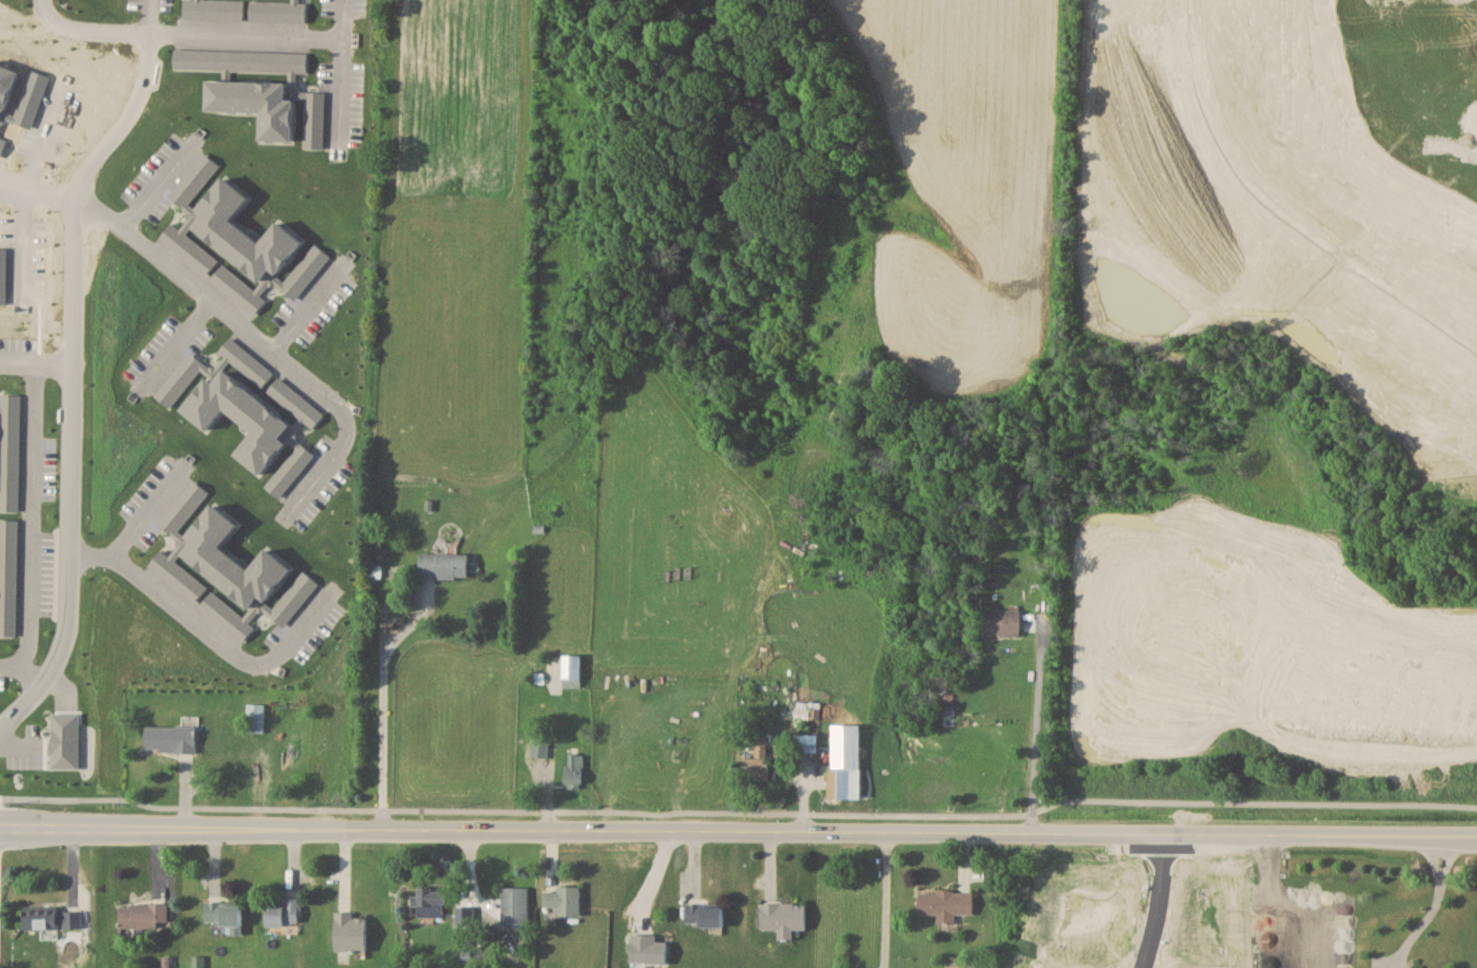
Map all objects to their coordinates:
road: (87, 32)
road: (245, 35)
road: (341, 72)
road: (132, 110)
building: (1160, 167)
road: (14, 182)
building: (1359, 185)
road: (38, 195)
road: (1283, 209)
building: (1409, 213)
building: (1201, 220)
road: (75, 242)
road: (26, 246)
building: (1448, 252)
building: (1249, 265)
building: (1476, 277)
road: (171, 345)
road: (35, 364)
building: (1448, 407)
road: (147, 509)
road: (30, 516)
building: (179, 542)
building: (231, 559)
building: (445, 565)
building: (258, 607)
building: (1002, 621)
road: (211, 635)
road: (381, 662)
road: (22, 668)
building: (572, 670)
building: (255, 717)
road: (1033, 727)
building: (171, 737)
building: (63, 739)
building: (806, 742)
building: (538, 748)
building: (845, 761)
building: (574, 770)
road: (739, 808)
road: (738, 833)
road: (1436, 877)
building: (432, 899)
building: (564, 900)
road: (883, 900)
road: (1158, 902)
building: (946, 904)
building: (515, 906)
building: (285, 913)
building: (143, 915)
building: (224, 915)
building: (704, 915)
building: (52, 918)
building: (782, 918)
road: (1418, 924)
building: (350, 932)
building: (647, 949)

